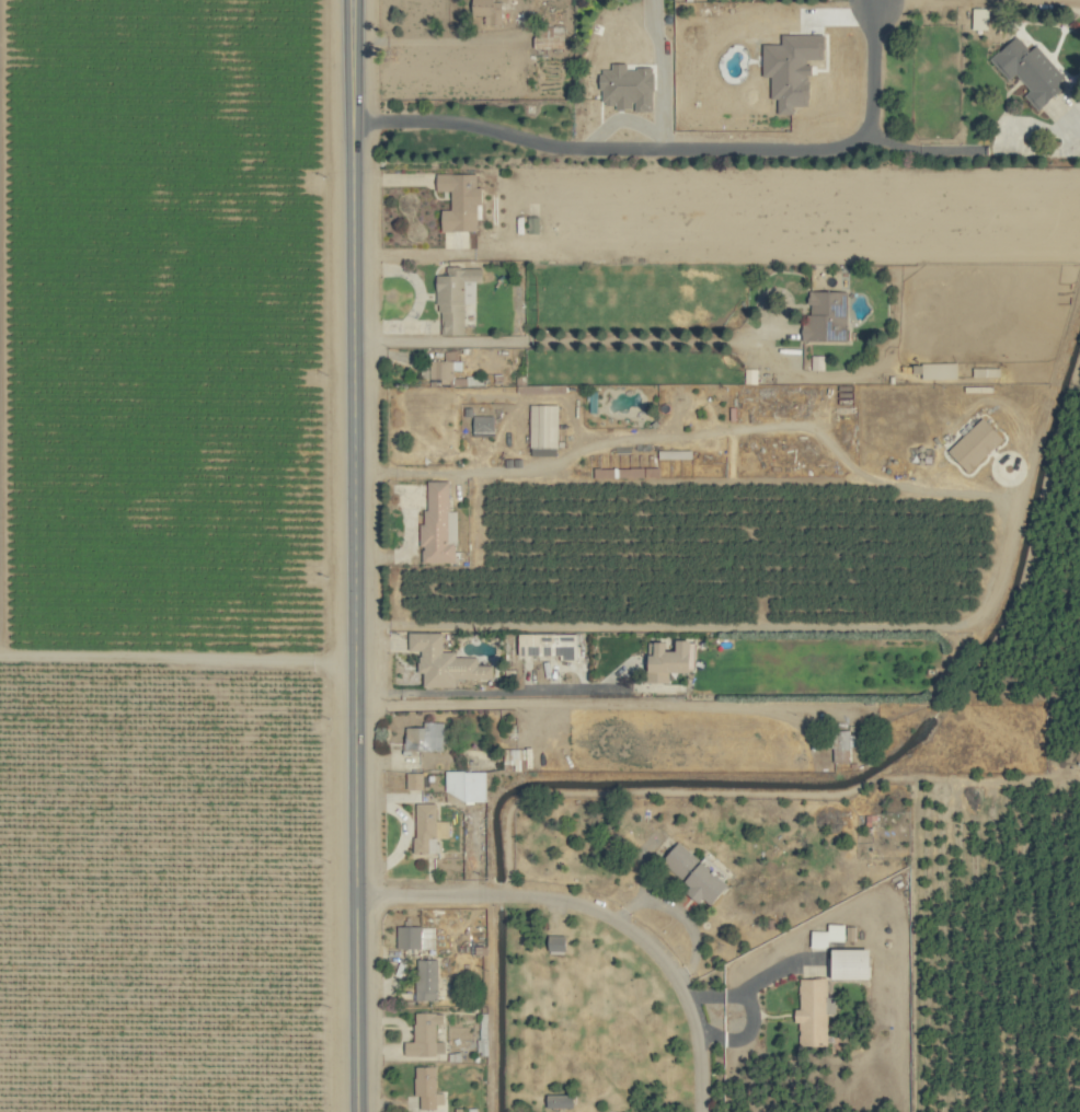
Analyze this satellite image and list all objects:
road: (872, 2)
road: (875, 2)
building: (489, 10)
building: (550, 36)
road: (425, 37)
building: (792, 68)
building: (1029, 69)
building: (628, 86)
road: (676, 150)
road: (937, 151)
building: (460, 200)
building: (456, 298)
building: (826, 316)
road: (549, 343)
building: (817, 361)
building: (444, 367)
building: (940, 370)
building: (483, 426)
building: (543, 429)
building: (975, 444)
building: (678, 453)
road: (560, 461)
building: (438, 525)
crop: (743, 553)
road: (356, 556)
crop: (540, 556)
building: (547, 645)
building: (668, 660)
building: (444, 662)
road: (503, 690)
road: (577, 704)
building: (425, 738)
building: (842, 744)
building: (464, 784)
building: (428, 827)
building: (697, 872)
road: (601, 910)
road: (675, 916)
building: (415, 936)
building: (556, 941)
building: (851, 962)
building: (426, 978)
road: (754, 981)
building: (814, 1010)
building: (425, 1034)
road: (748, 1035)
building: (427, 1086)
building: (560, 1100)

